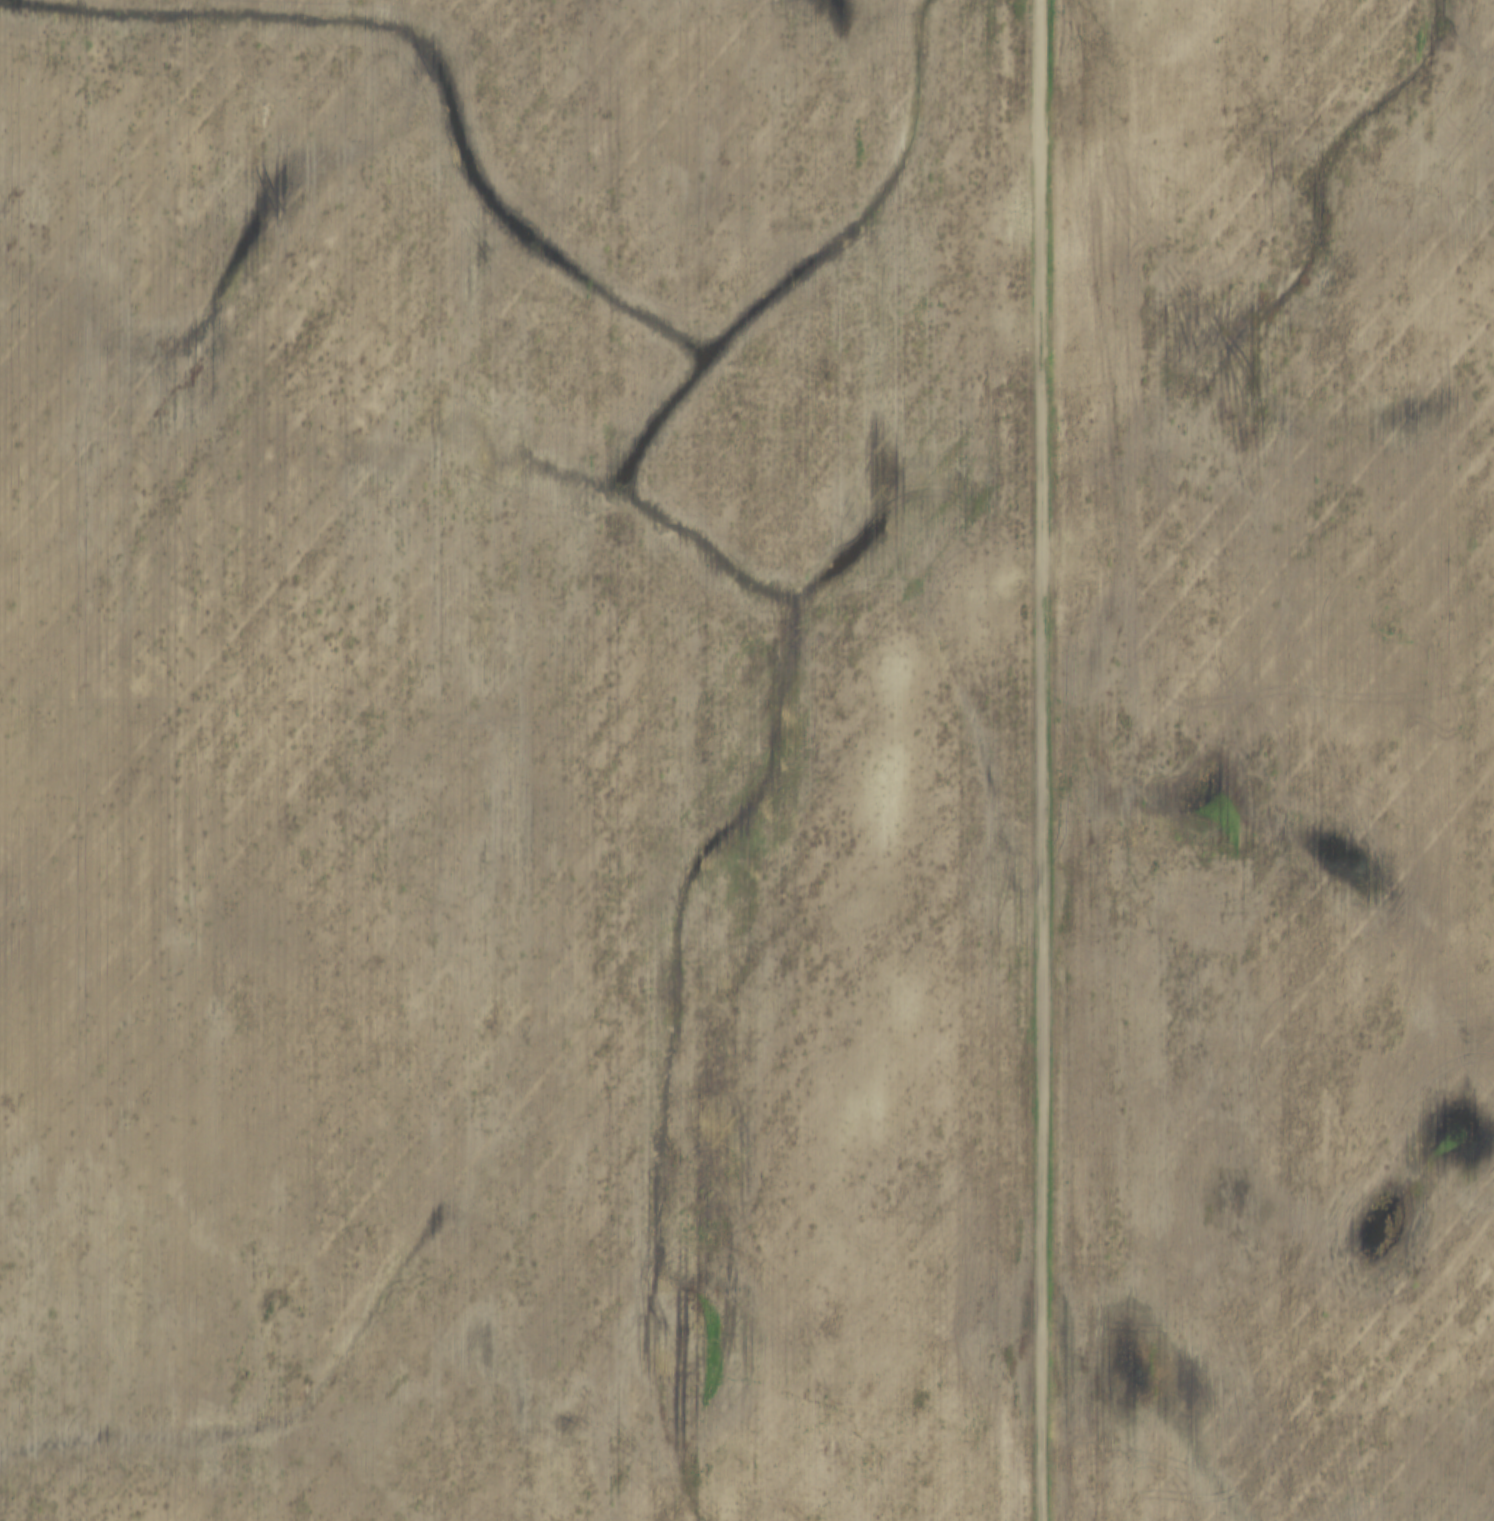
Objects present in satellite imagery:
road: (1044, 760)

